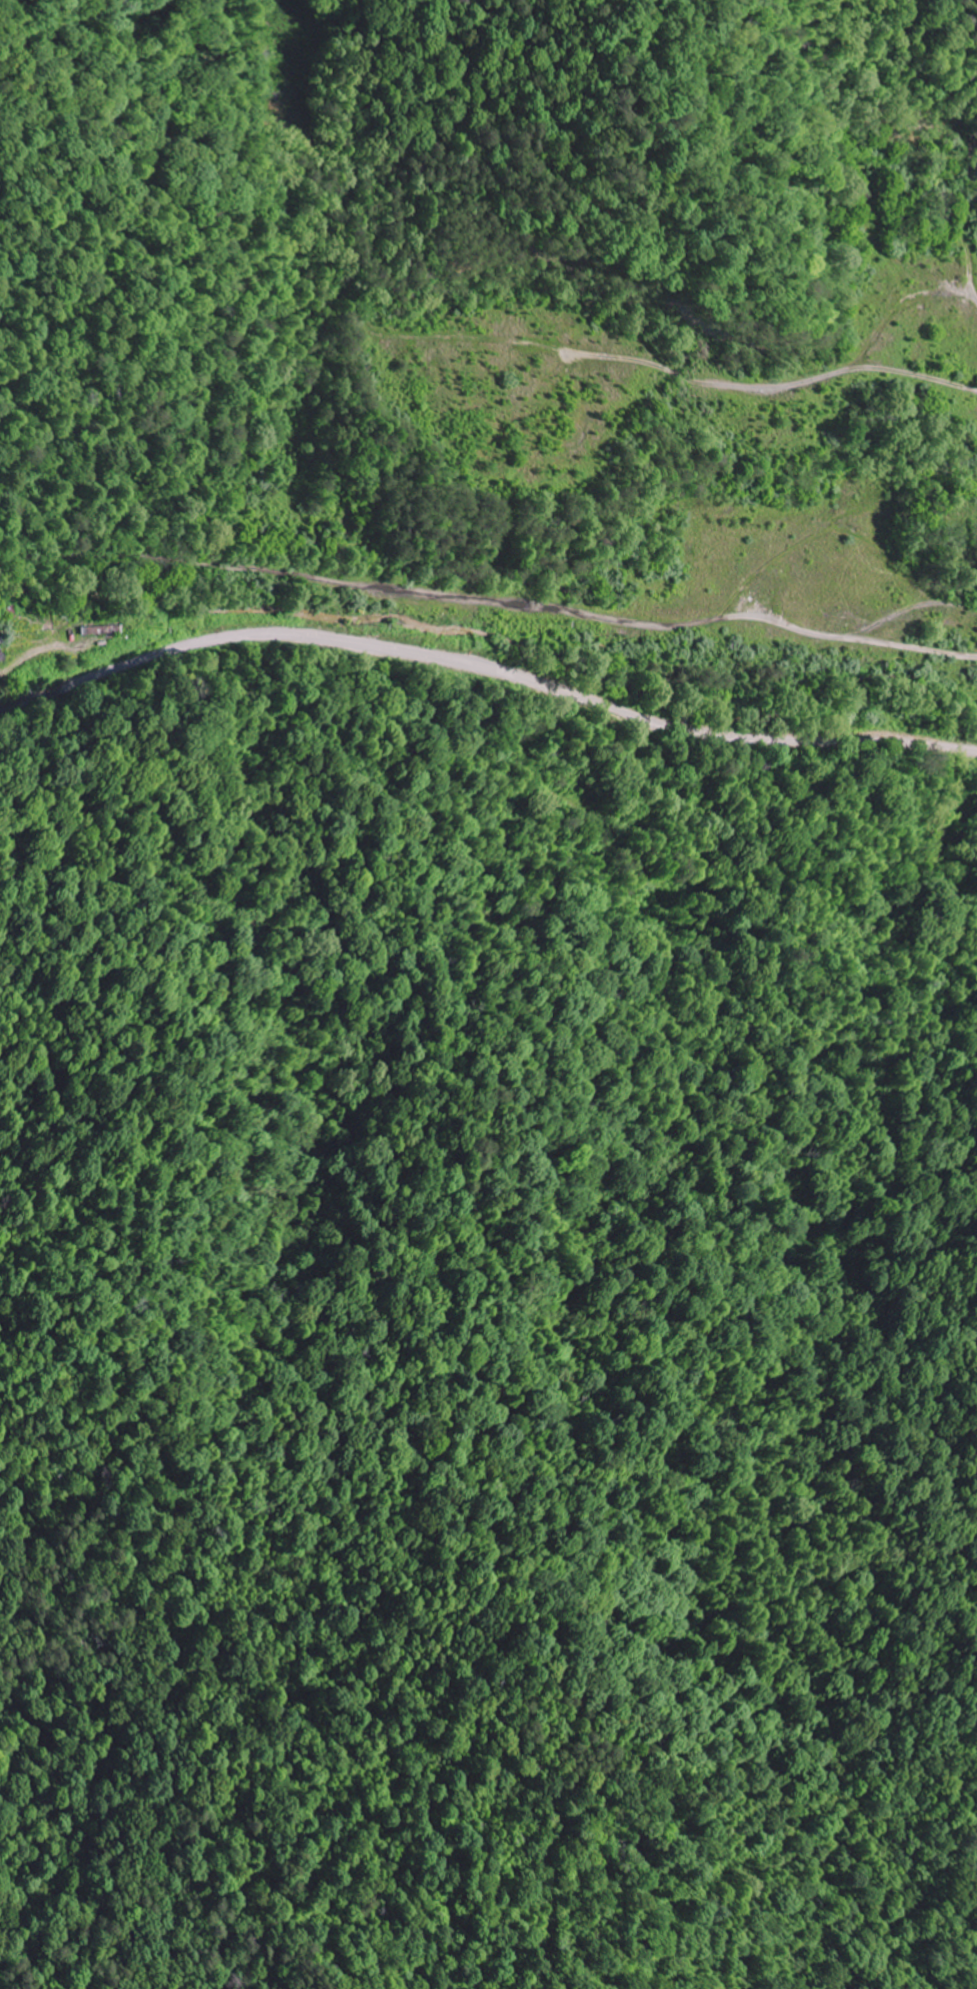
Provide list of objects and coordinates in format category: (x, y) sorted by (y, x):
road: (487, 666)

